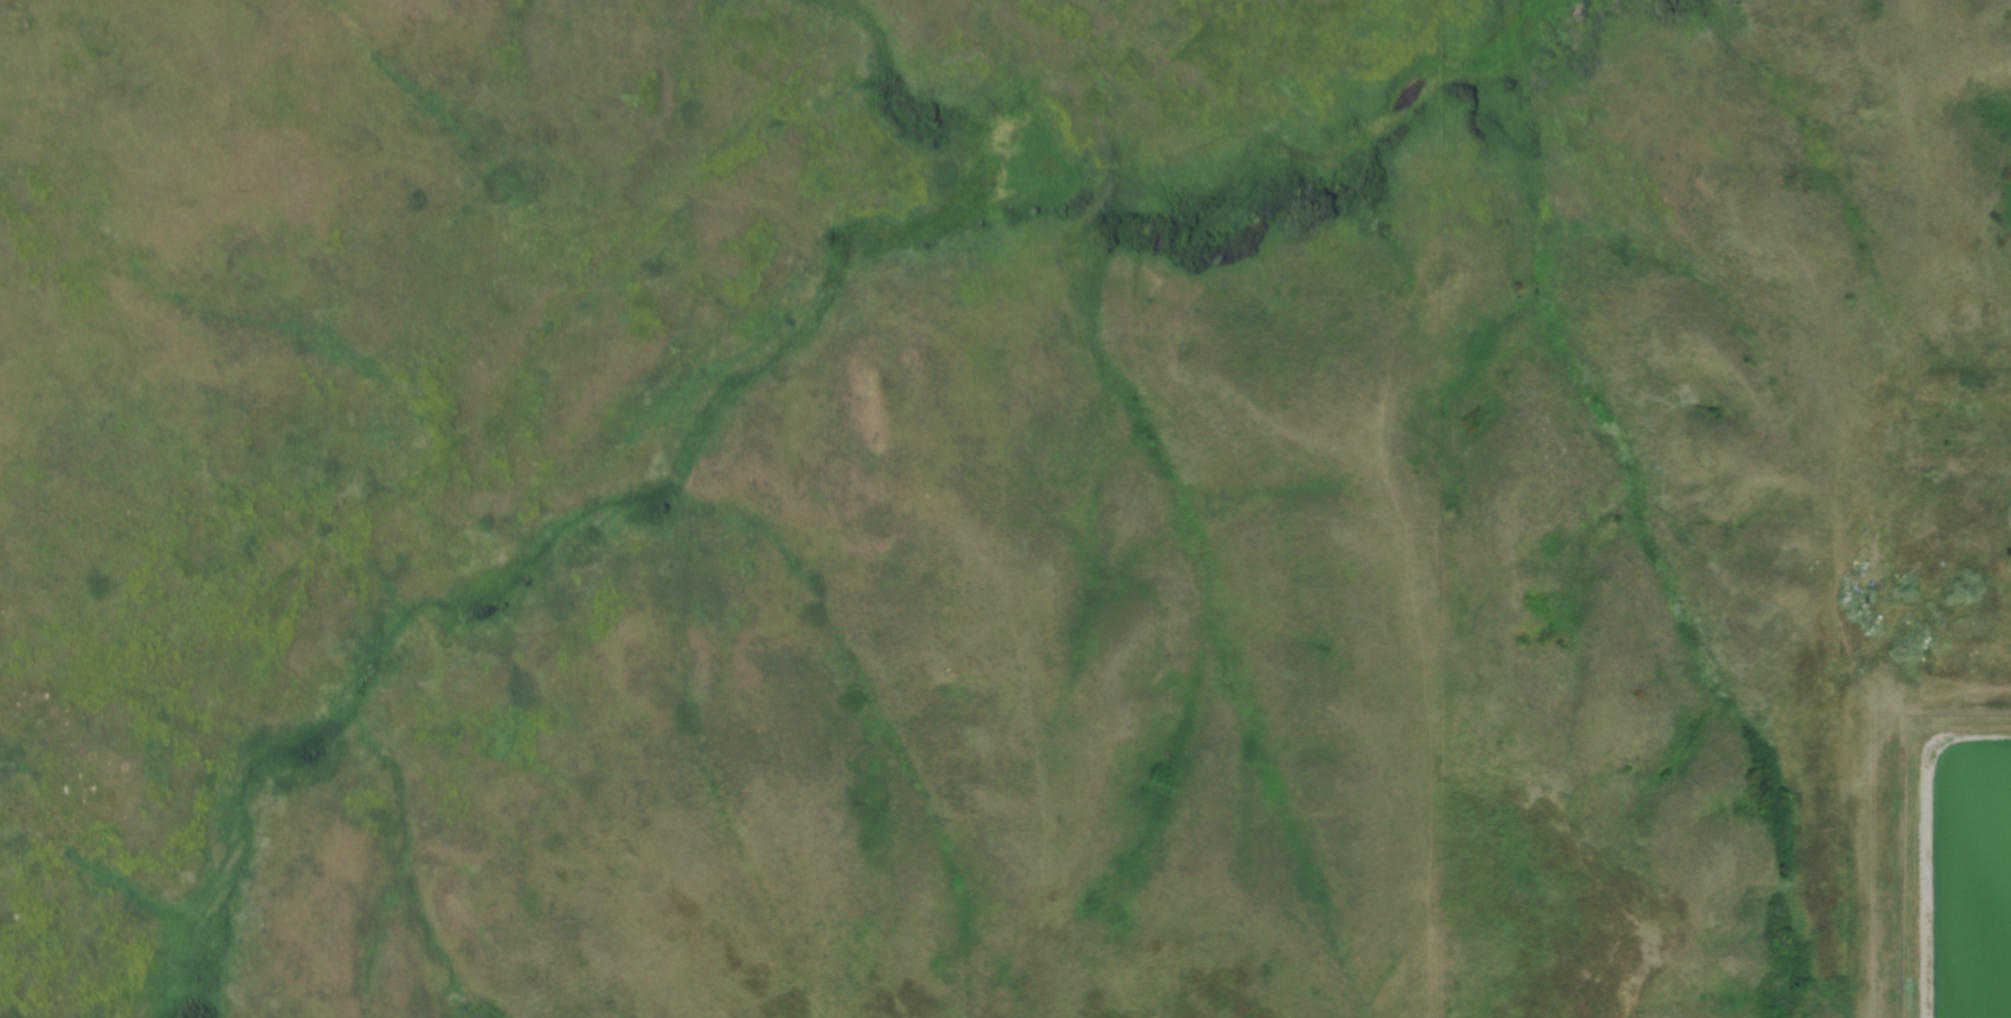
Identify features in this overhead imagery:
road: (1902, 850)

